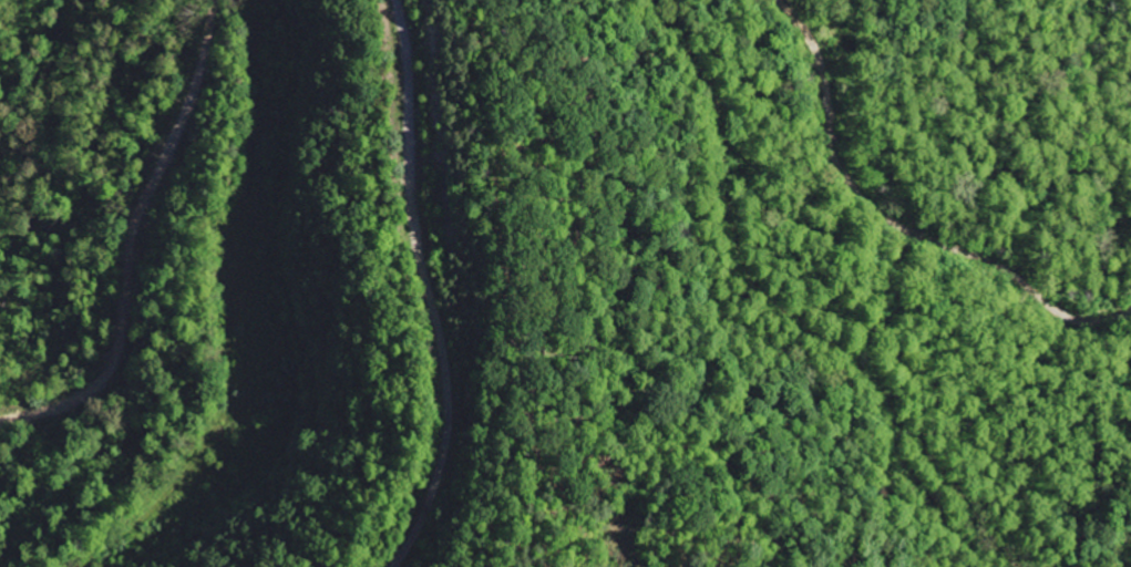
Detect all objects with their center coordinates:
road: (901, 218)
road: (140, 240)

